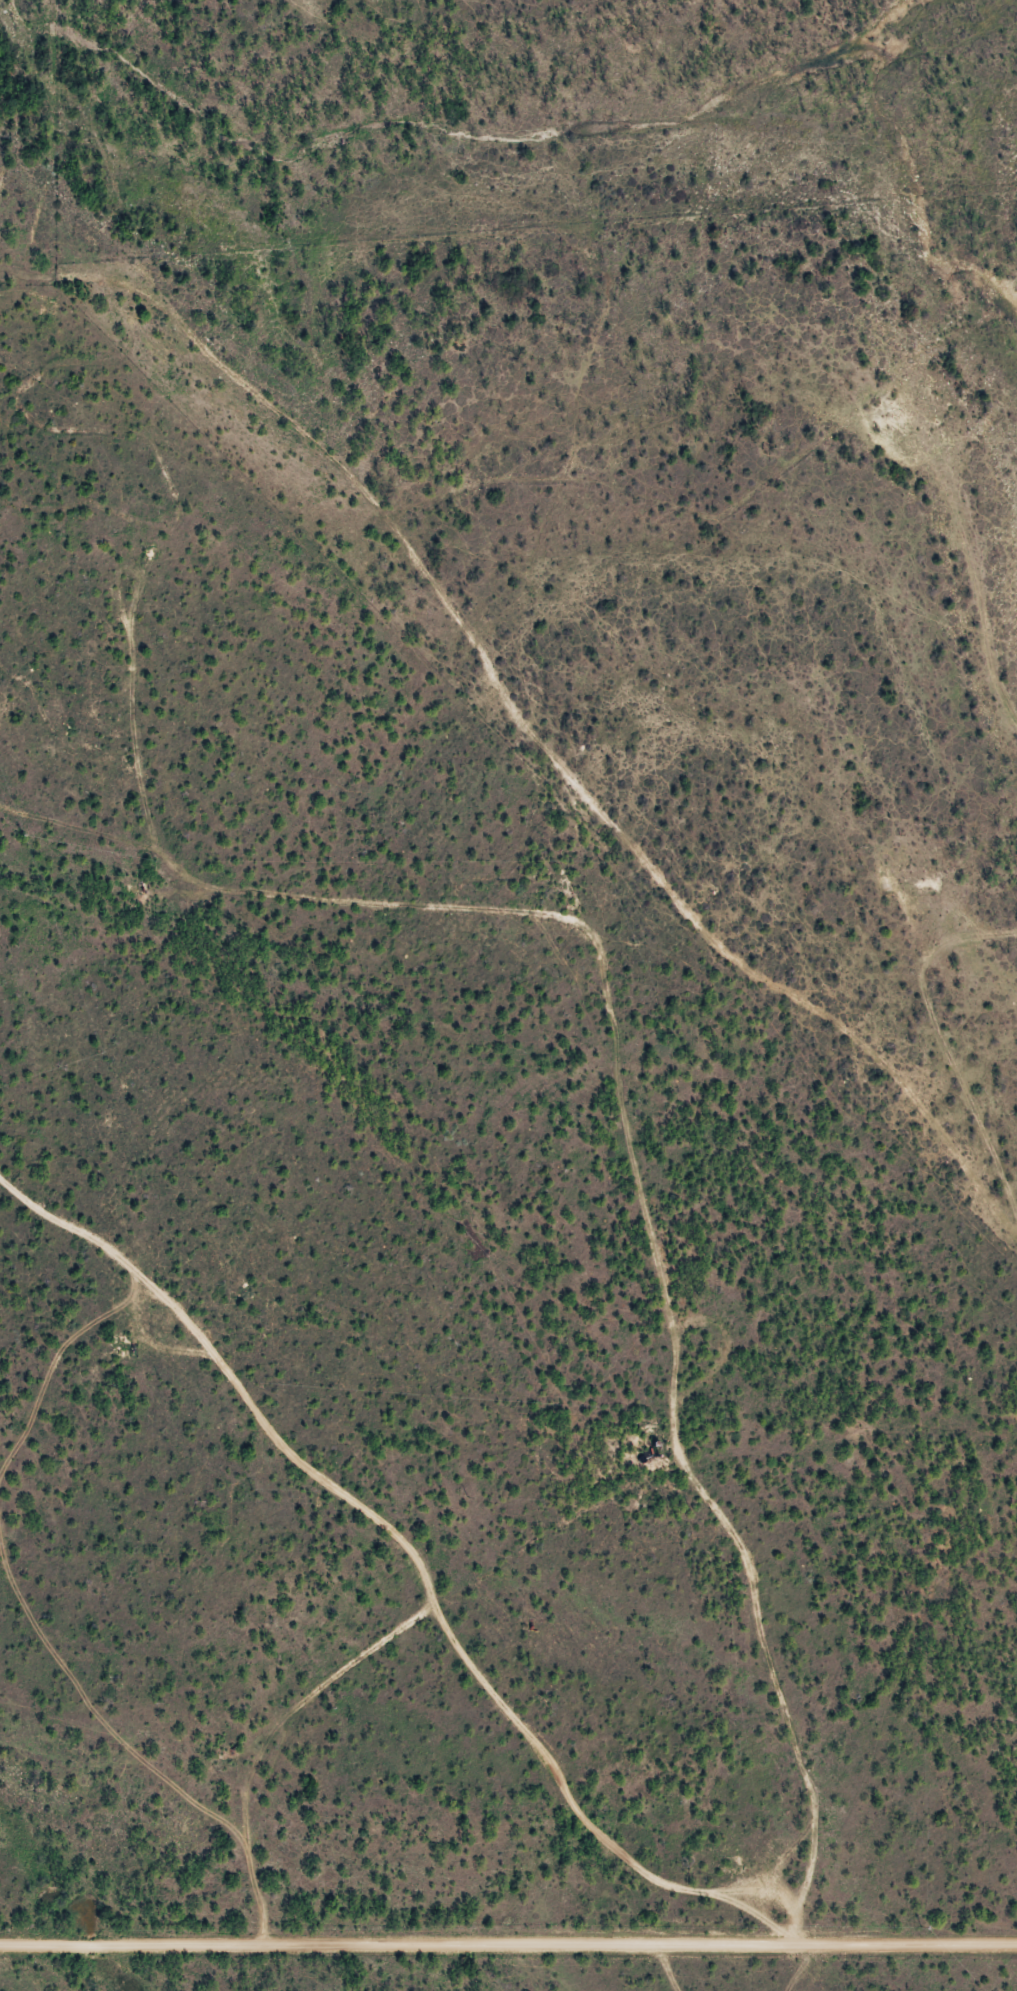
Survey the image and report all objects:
road: (563, 730)
road: (387, 1559)
road: (508, 1952)

